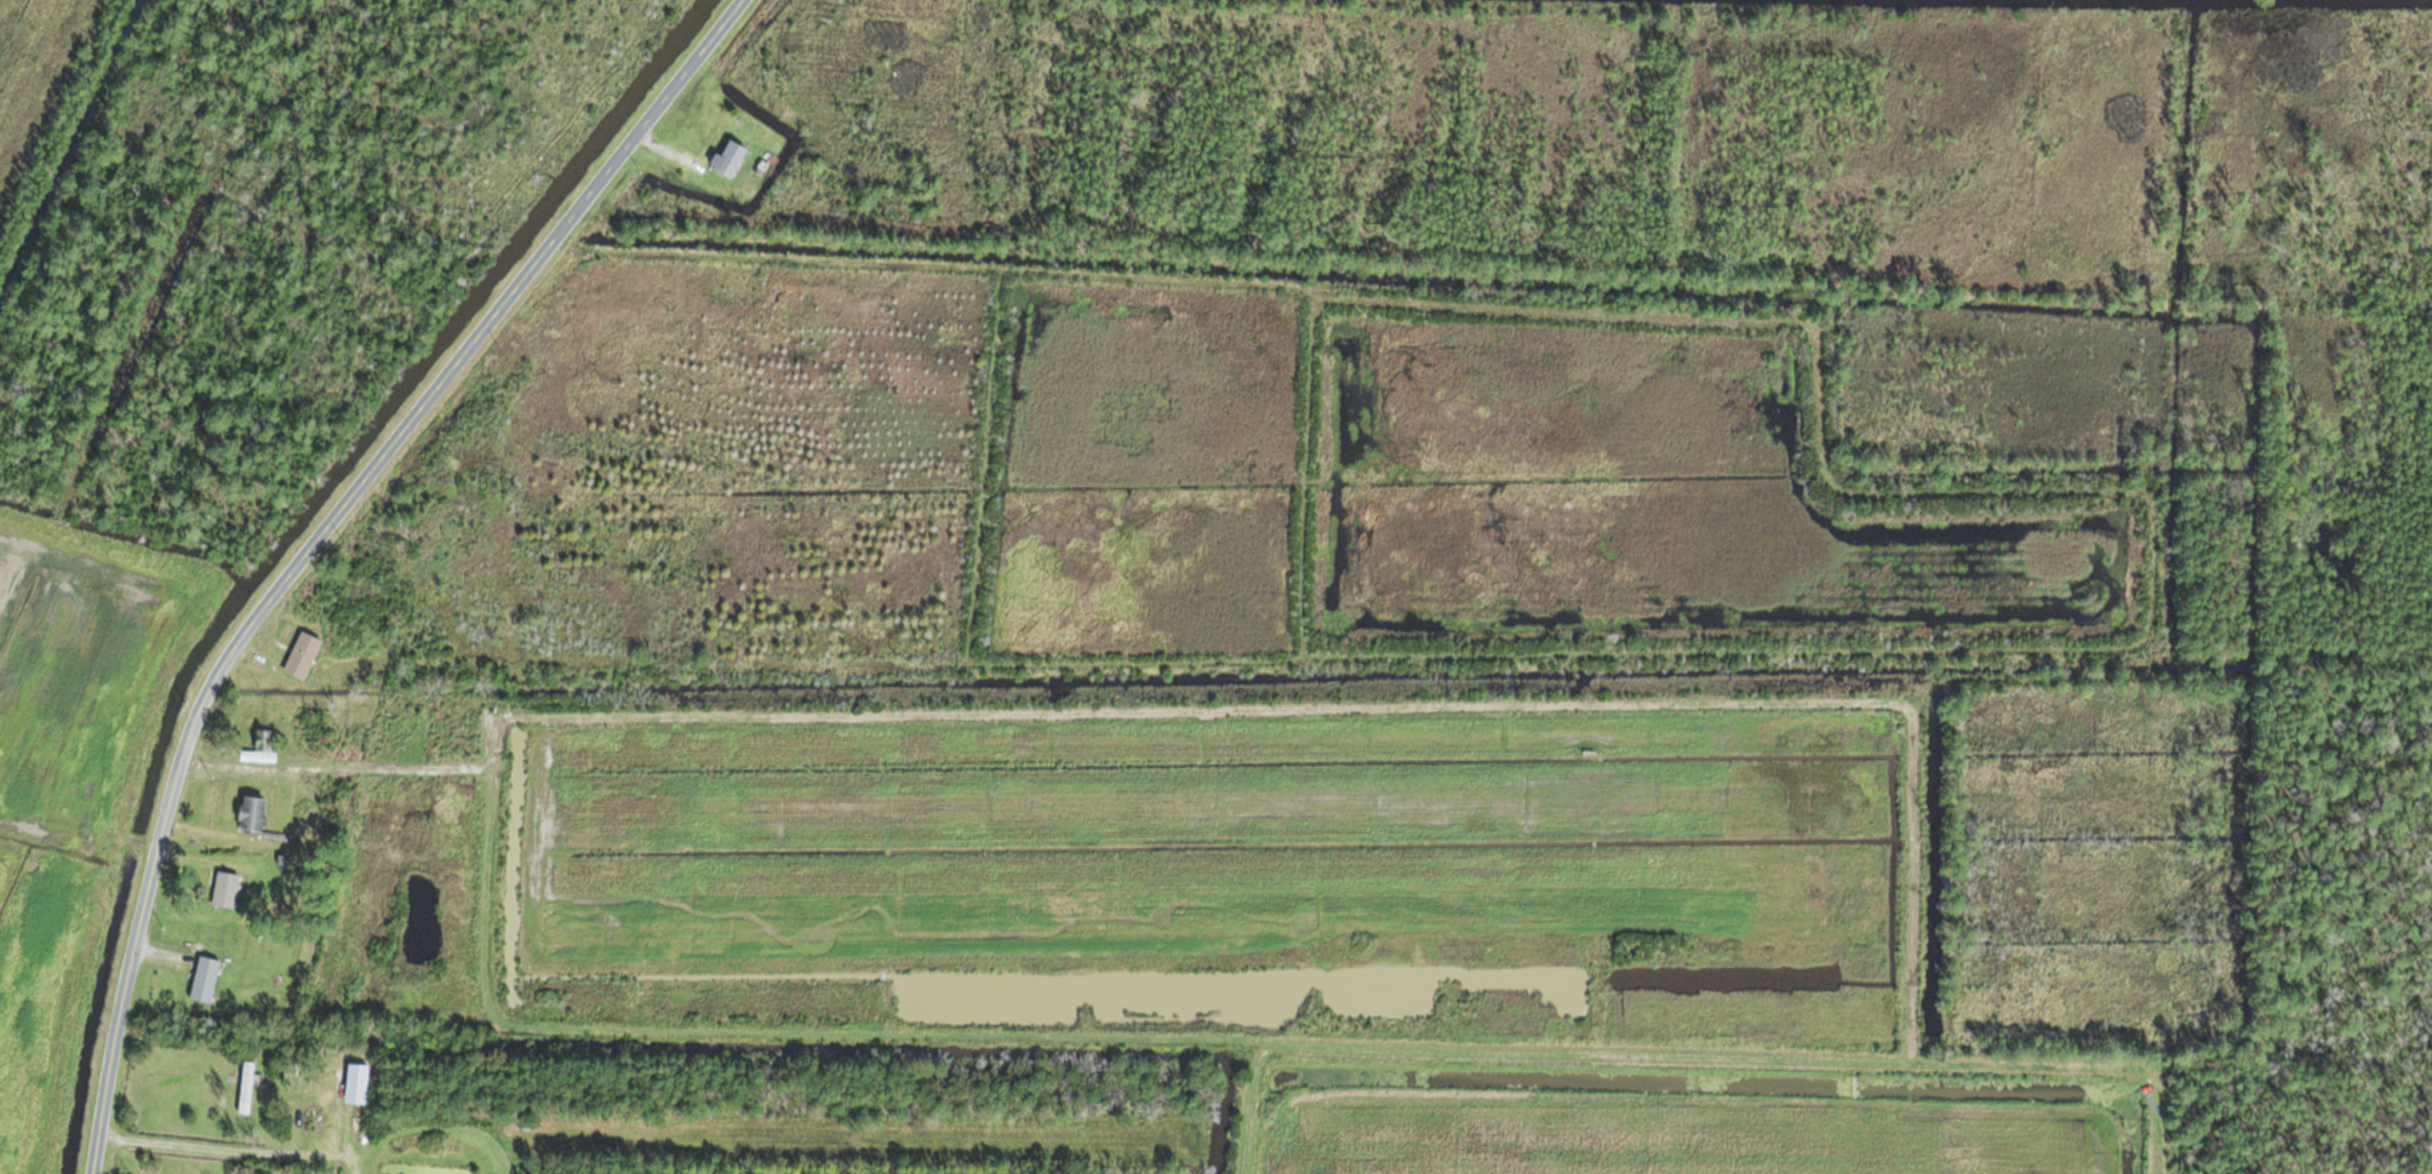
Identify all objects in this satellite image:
road: (1934, 30)
building: (728, 158)
road: (314, 538)
building: (301, 654)
building: (262, 746)
building: (250, 812)
building: (224, 888)
building: (204, 978)
building: (355, 1082)
building: (245, 1086)
road: (222, 1149)

